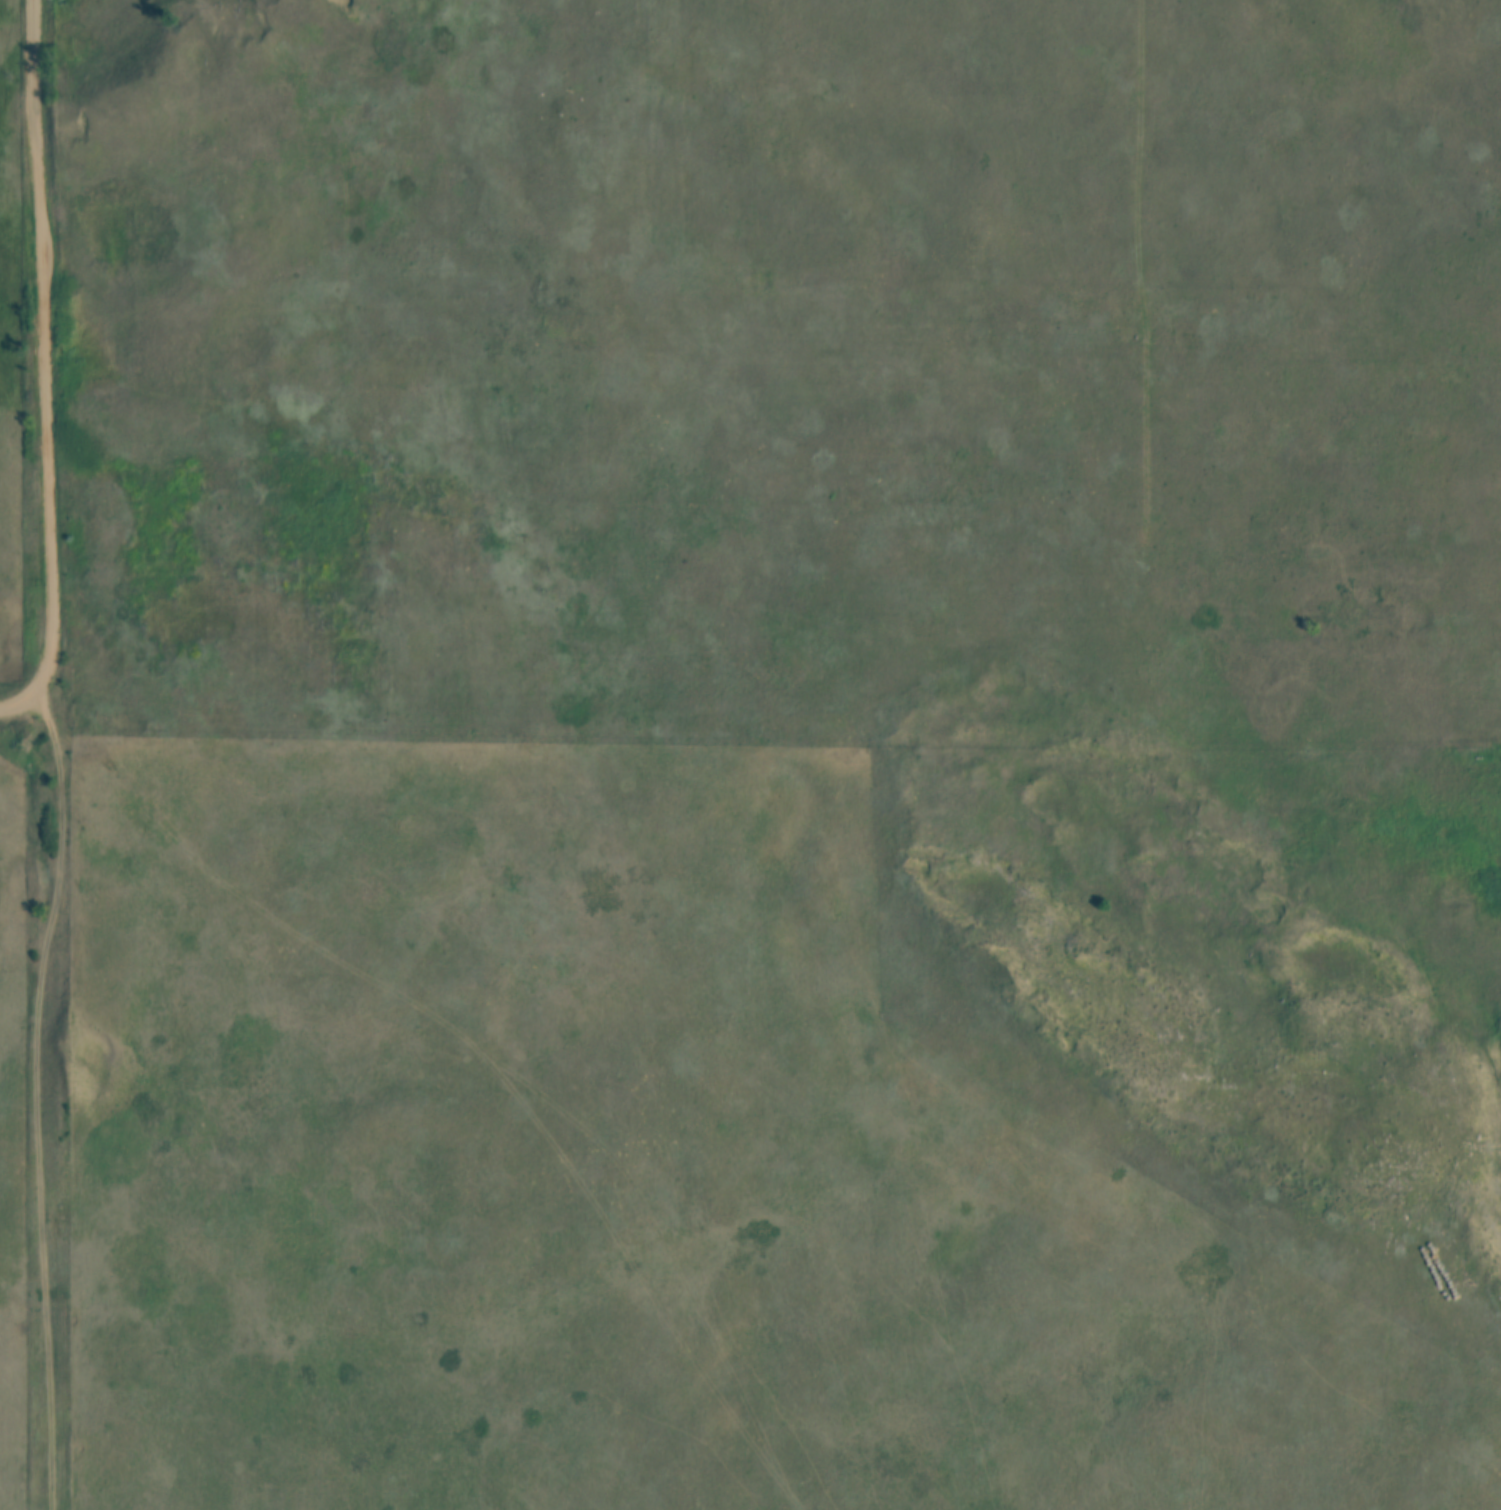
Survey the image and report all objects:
road: (46, 333)
road: (28, 691)
road: (36, 1087)

